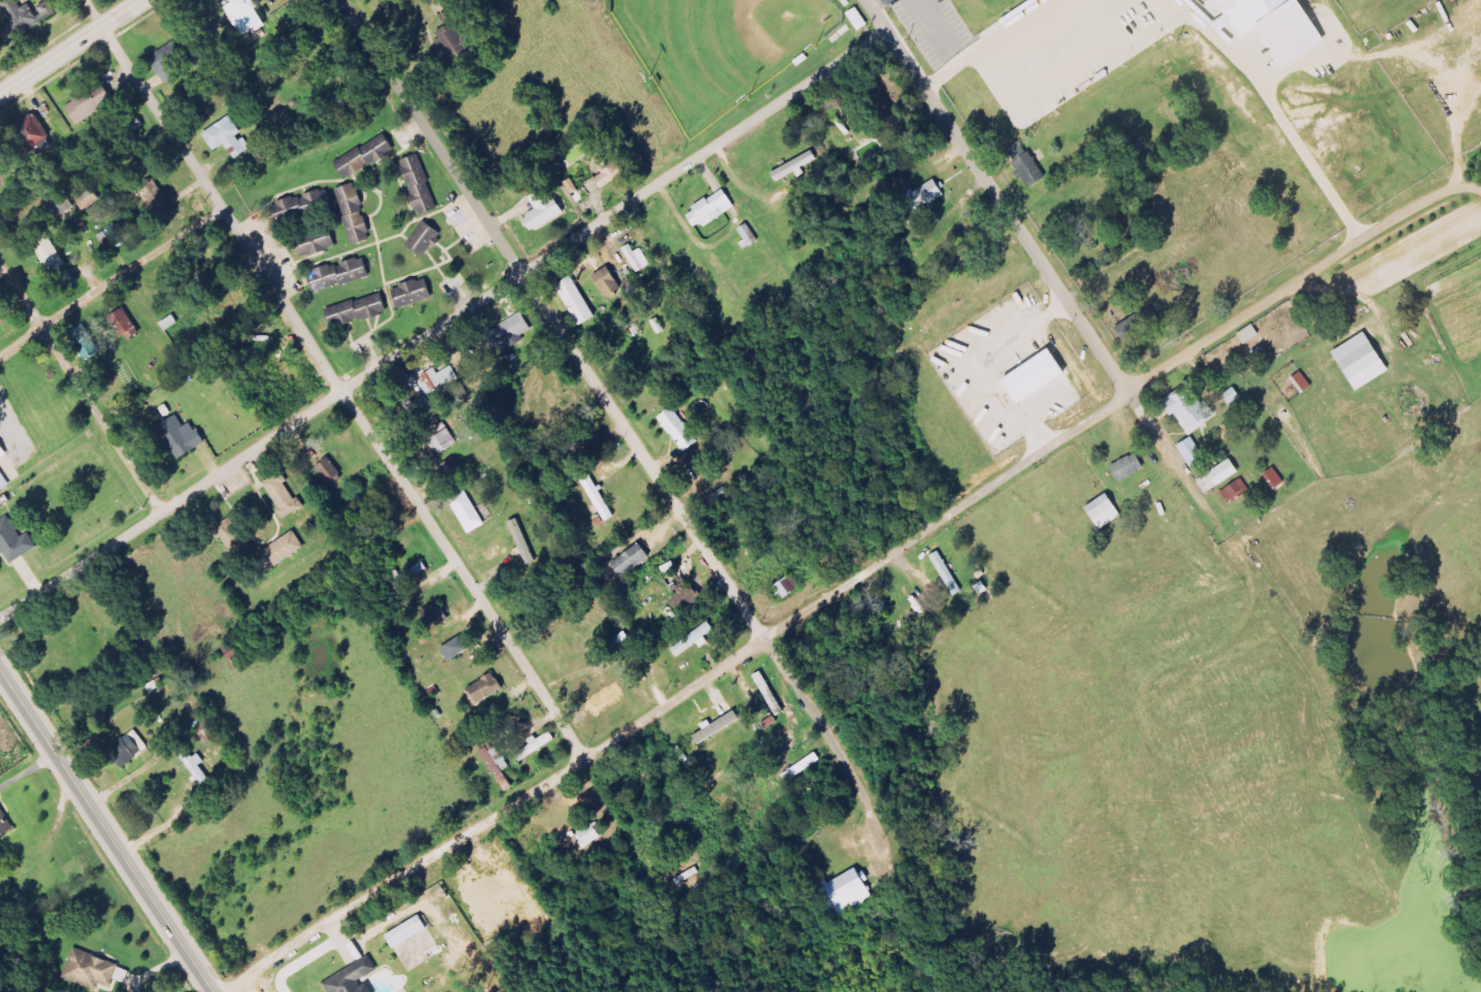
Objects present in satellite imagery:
building: (1196, 0)
road: (871, 15)
building: (249, 16)
building: (26, 17)
building: (861, 19)
building: (1226, 24)
building: (1280, 25)
building: (456, 39)
park: (1068, 40)
park: (721, 46)
road: (74, 49)
building: (171, 61)
building: (94, 103)
building: (36, 132)
building: (230, 137)
building: (368, 157)
building: (1029, 164)
building: (797, 166)
building: (612, 170)
building: (422, 185)
building: (929, 196)
building: (63, 205)
building: (547, 209)
building: (714, 209)
building: (357, 214)
building: (121, 235)
building: (750, 236)
building: (427, 239)
building: (320, 243)
road: (1034, 256)
building: (640, 258)
building: (342, 274)
road: (137, 277)
building: (611, 282)
building: (416, 293)
building: (579, 301)
building: (2, 307)
building: (360, 311)
building: (129, 325)
road: (441, 326)
building: (1137, 328)
building: (512, 334)
building: (1251, 334)
building: (89, 341)
road: (23, 349)
building: (1365, 361)
road: (582, 366)
building: (1039, 377)
road: (332, 382)
road: (81, 386)
building: (1193, 409)
building: (682, 430)
building: (185, 437)
building: (3, 451)
building: (1196, 453)
building: (1131, 467)
building: (332, 471)
building: (1222, 476)
building: (1277, 478)
building: (4, 481)
building: (1238, 491)
building: (285, 495)
building: (1107, 511)
building: (470, 512)
building: (234, 537)
building: (16, 541)
building: (284, 551)
building: (634, 560)
building: (950, 574)
road: (853, 579)
building: (686, 592)
building: (439, 614)
building: (696, 639)
building: (458, 648)
building: (488, 689)
building: (721, 725)
building: (539, 745)
building: (132, 747)
building: (502, 767)
building: (805, 767)
building: (200, 768)
building: (5, 821)
road: (105, 832)
building: (590, 835)
building: (506, 867)
building: (473, 881)
building: (851, 892)
building: (410, 931)
building: (92, 970)
building: (356, 978)

